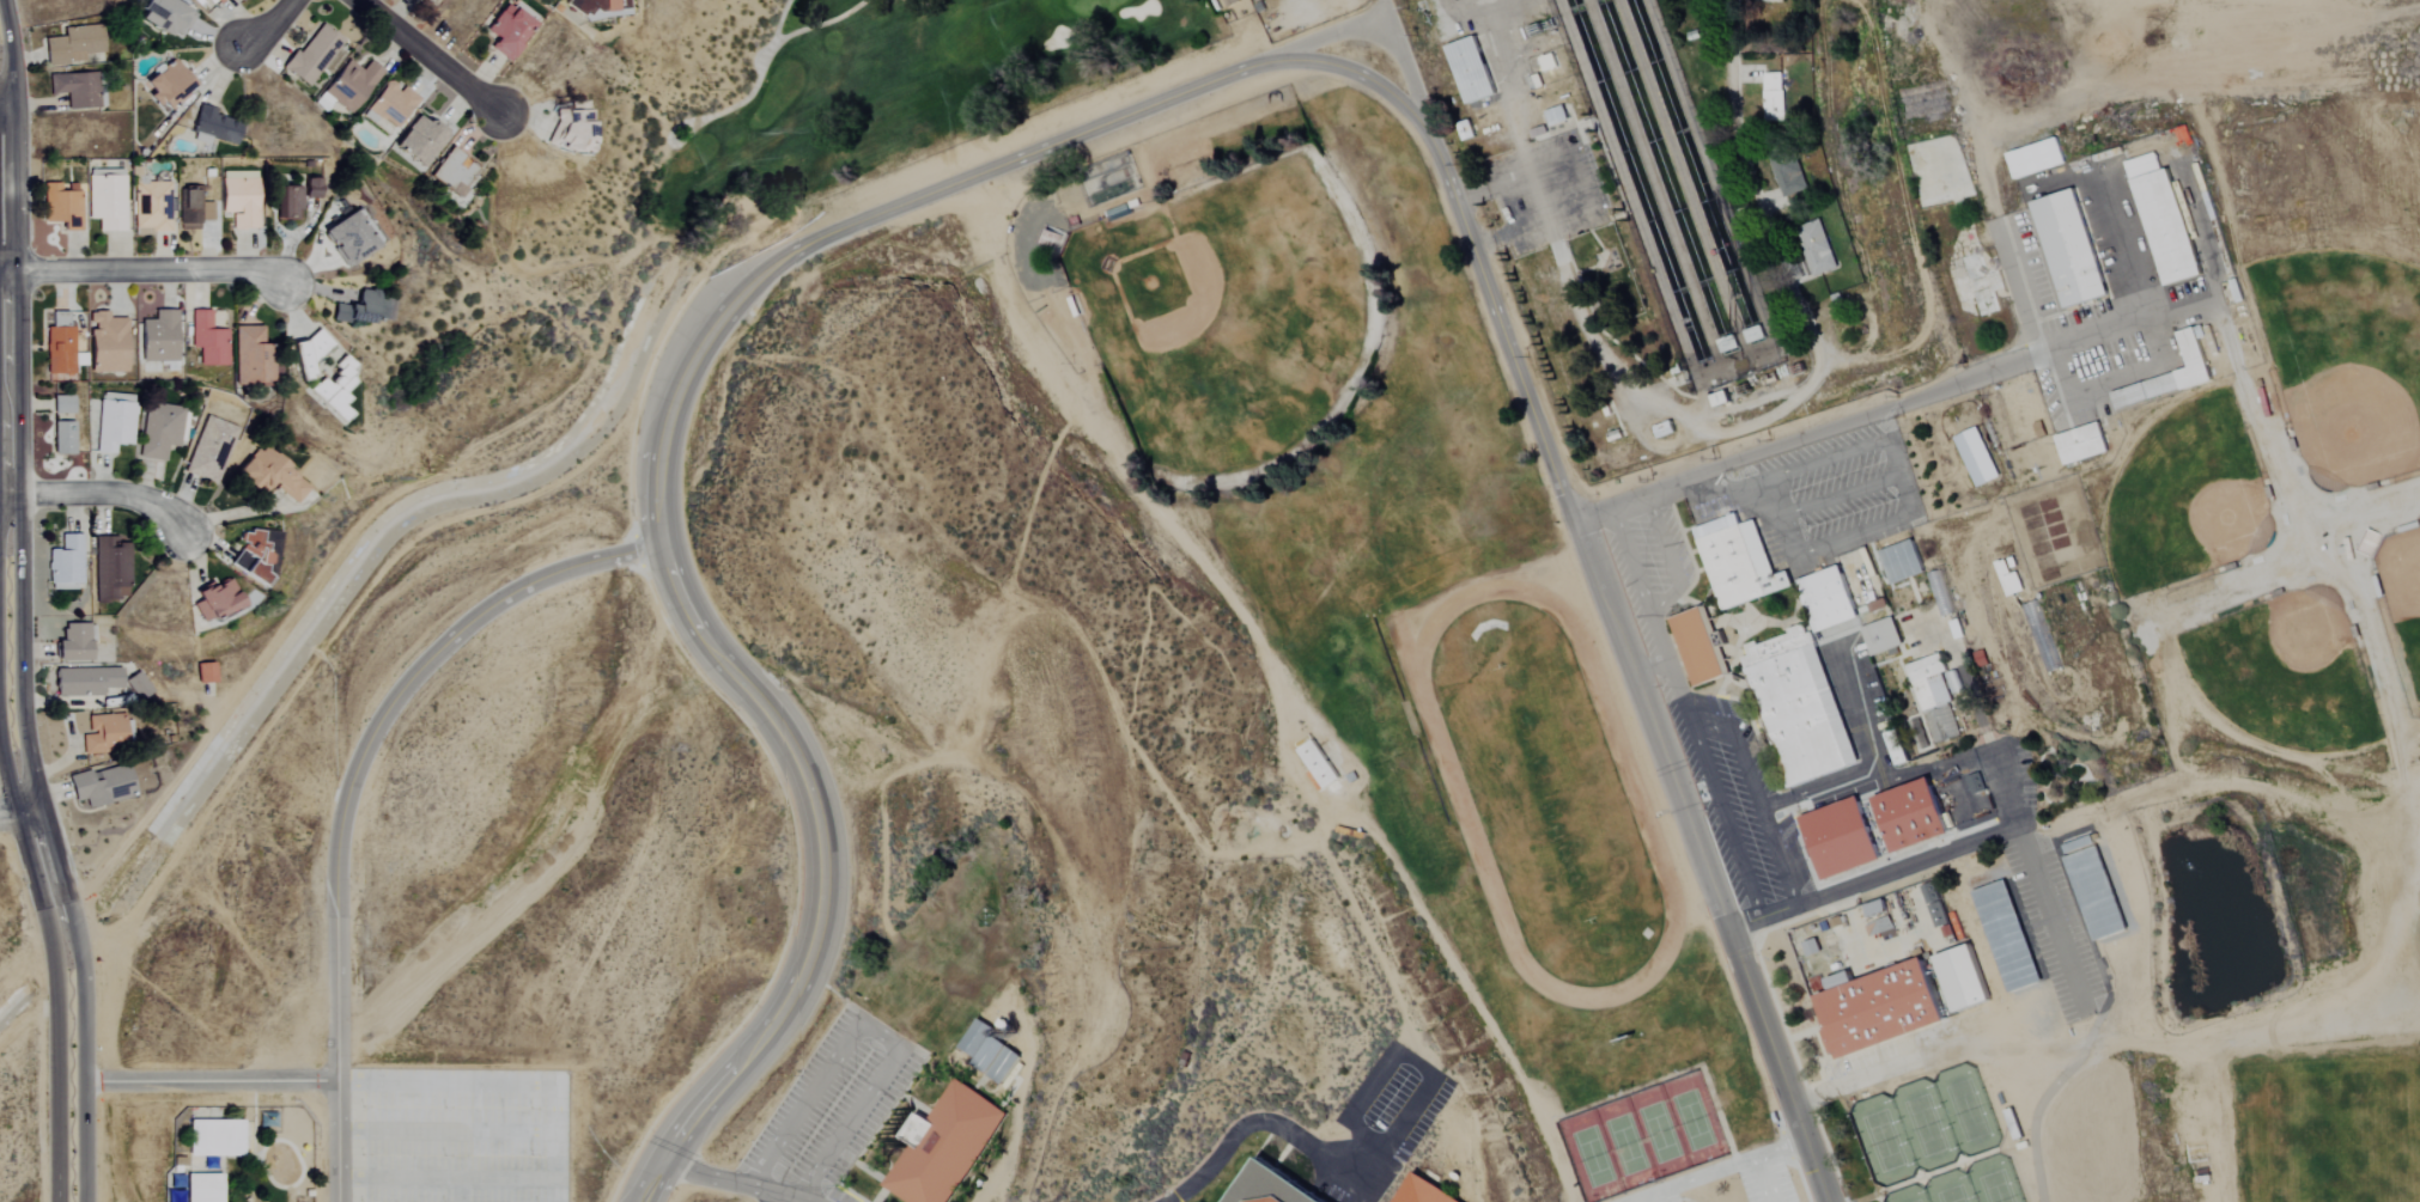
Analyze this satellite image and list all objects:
building: (236, 0)
building: (421, 0)
building: (439, 0)
building: (218, 1)
road: (1380, 11)
building: (162, 16)
road: (261, 25)
building: (507, 31)
road: (1317, 38)
building: (73, 45)
building: (315, 55)
road: (432, 57)
road: (1352, 71)
building: (1470, 71)
road: (1404, 73)
power tower: (701, 80)
road: (2157, 81)
building: (351, 85)
building: (166, 86)
building: (75, 90)
building: (1773, 97)
road: (2, 104)
building: (389, 105)
park: (875, 105)
building: (1556, 116)
building: (574, 126)
building: (214, 128)
building: (418, 141)
building: (2027, 160)
aquafarm: (1694, 170)
building: (452, 173)
aquafarm: (1665, 175)
building: (1786, 175)
aquafarm: (1637, 182)
building: (293, 196)
building: (239, 199)
building: (105, 200)
building: (148, 205)
building: (61, 208)
building: (193, 208)
aquafarm: (1646, 210)
building: (2165, 226)
building: (351, 238)
building: (2067, 249)
building: (1813, 251)
road: (141, 270)
park: (1198, 301)
building: (361, 309)
building: (1753, 335)
building: (158, 337)
building: (207, 340)
road: (2160, 340)
building: (107, 343)
building: (60, 347)
road: (2057, 348)
building: (309, 354)
building: (254, 358)
building: (2167, 376)
building: (335, 392)
building: (62, 405)
road: (1879, 413)
park: (2346, 417)
building: (115, 422)
road: (2263, 425)
road: (1700, 427)
building: (162, 429)
building: (62, 439)
building: (2080, 444)
building: (209, 450)
building: (1975, 458)
power tower: (425, 468)
building: (270, 476)
road: (1769, 482)
road: (99, 492)
road: (1739, 492)
parking lot: (1835, 493)
park: (2195, 493)
road: (1836, 494)
road: (1144, 500)
road: (656, 501)
park: (1452, 505)
road: (1910, 506)
road: (2359, 511)
road: (244, 512)
road: (1630, 561)
building: (1738, 561)
building: (65, 562)
building: (1901, 562)
building: (110, 569)
parking lot: (1648, 569)
road: (1678, 581)
building: (2007, 581)
road: (2237, 592)
building: (1938, 594)
building: (1826, 599)
building: (215, 600)
park: (2401, 602)
road: (2372, 629)
building: (1880, 636)
road: (6, 641)
building: (74, 643)
building: (1698, 647)
park: (2285, 648)
road: (1628, 665)
road: (1666, 669)
building: (205, 673)
building: (1885, 677)
building: (85, 682)
building: (139, 687)
building: (1935, 695)
building: (1798, 706)
building: (104, 734)
building: (1893, 748)
building: (1318, 764)
road: (1866, 764)
parking lot: (1941, 783)
building: (102, 786)
road: (349, 787)
road: (2005, 787)
park: (1545, 791)
track: (1544, 792)
parking lot: (1731, 793)
road: (1753, 794)
road: (16, 814)
road: (1721, 814)
building: (1911, 818)
road: (2318, 820)
building: (1804, 836)
building: (1840, 840)
road: (2035, 875)
building: (2094, 892)
building: (1875, 909)
road: (1367, 933)
building: (2005, 935)
building: (1963, 981)
road: (1464, 987)
building: (1879, 1008)
road: (869, 1027)
building: (974, 1037)
building: (986, 1054)
building: (1002, 1063)
road: (202, 1080)
road: (1852, 1080)
road: (446, 1081)
parking lot: (834, 1100)
park: (1925, 1124)
parking lot: (1379, 1127)
park: (2327, 1127)
road: (457, 1129)
road: (446, 1133)
parking lot: (463, 1136)
building: (217, 1137)
park: (1646, 1139)
road: (560, 1142)
building: (943, 1145)
road: (972, 1157)
road: (1323, 1157)
road: (738, 1173)
road: (448, 1178)
road: (878, 1178)
parking lot: (1767, 1182)
road: (737, 1183)
park: (1969, 1185)
building: (205, 1186)
building: (1270, 1186)
road: (458, 1190)
building: (1421, 1190)
road: (852, 1192)
road: (773, 1197)
road: (827, 1198)
parking lot: (1671, 1198)
parking lot: (753, 1200)

